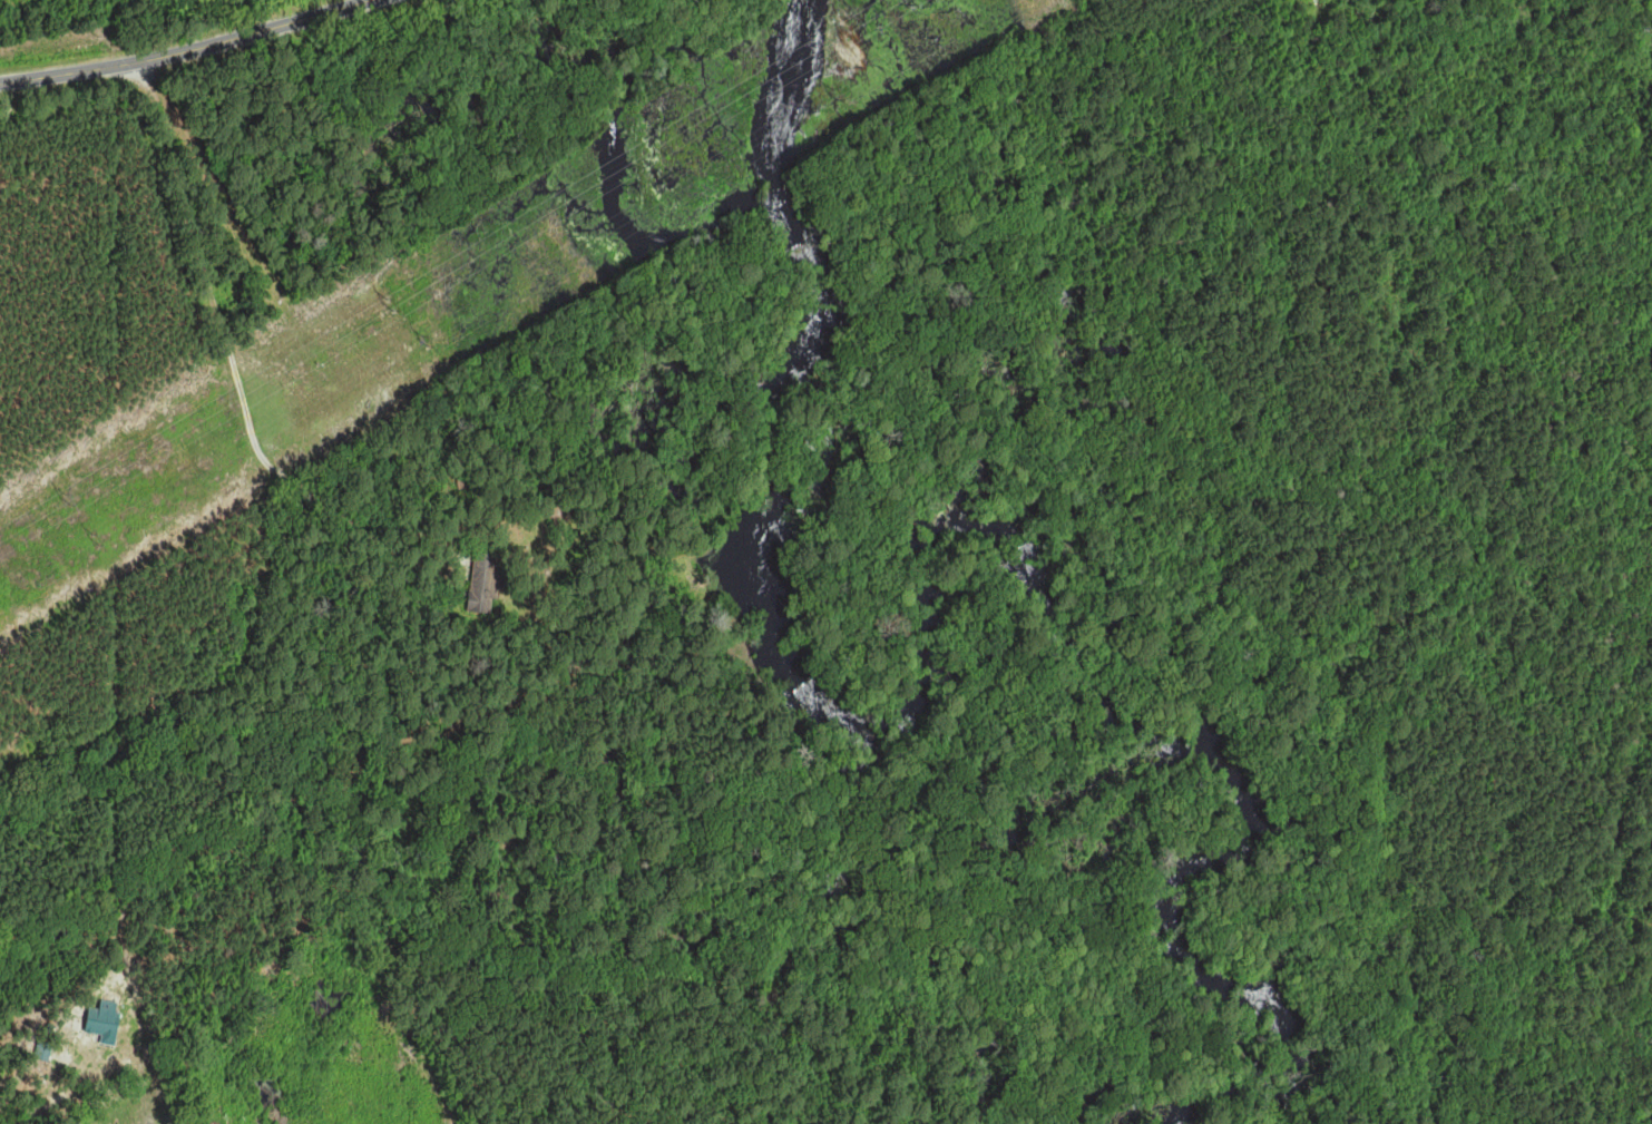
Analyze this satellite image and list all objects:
power tower: (882, 10)
road: (186, 51)
power tower: (837, 98)
power tower: (393, 304)
power tower: (430, 361)
power tower: (68, 496)
power tower: (99, 538)
building: (486, 584)
river: (845, 726)

